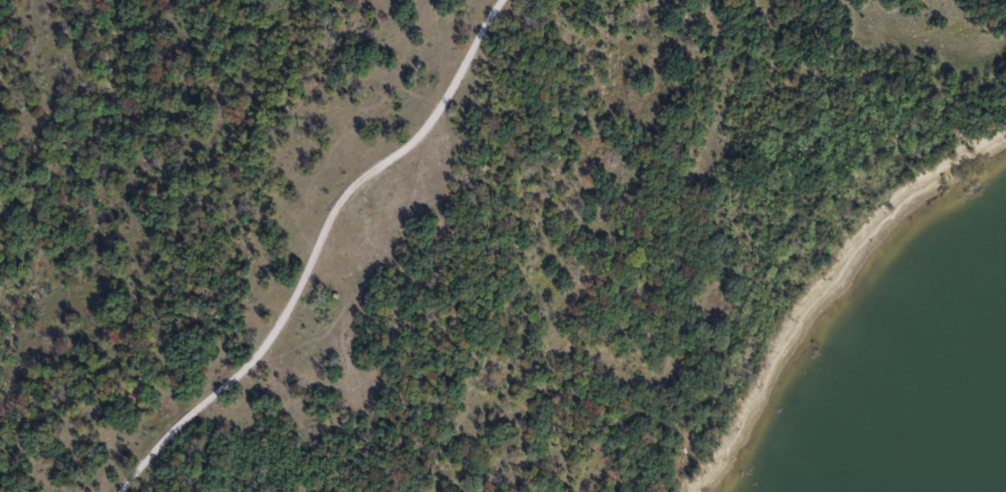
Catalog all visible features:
park: (500, 245)
road: (318, 247)

